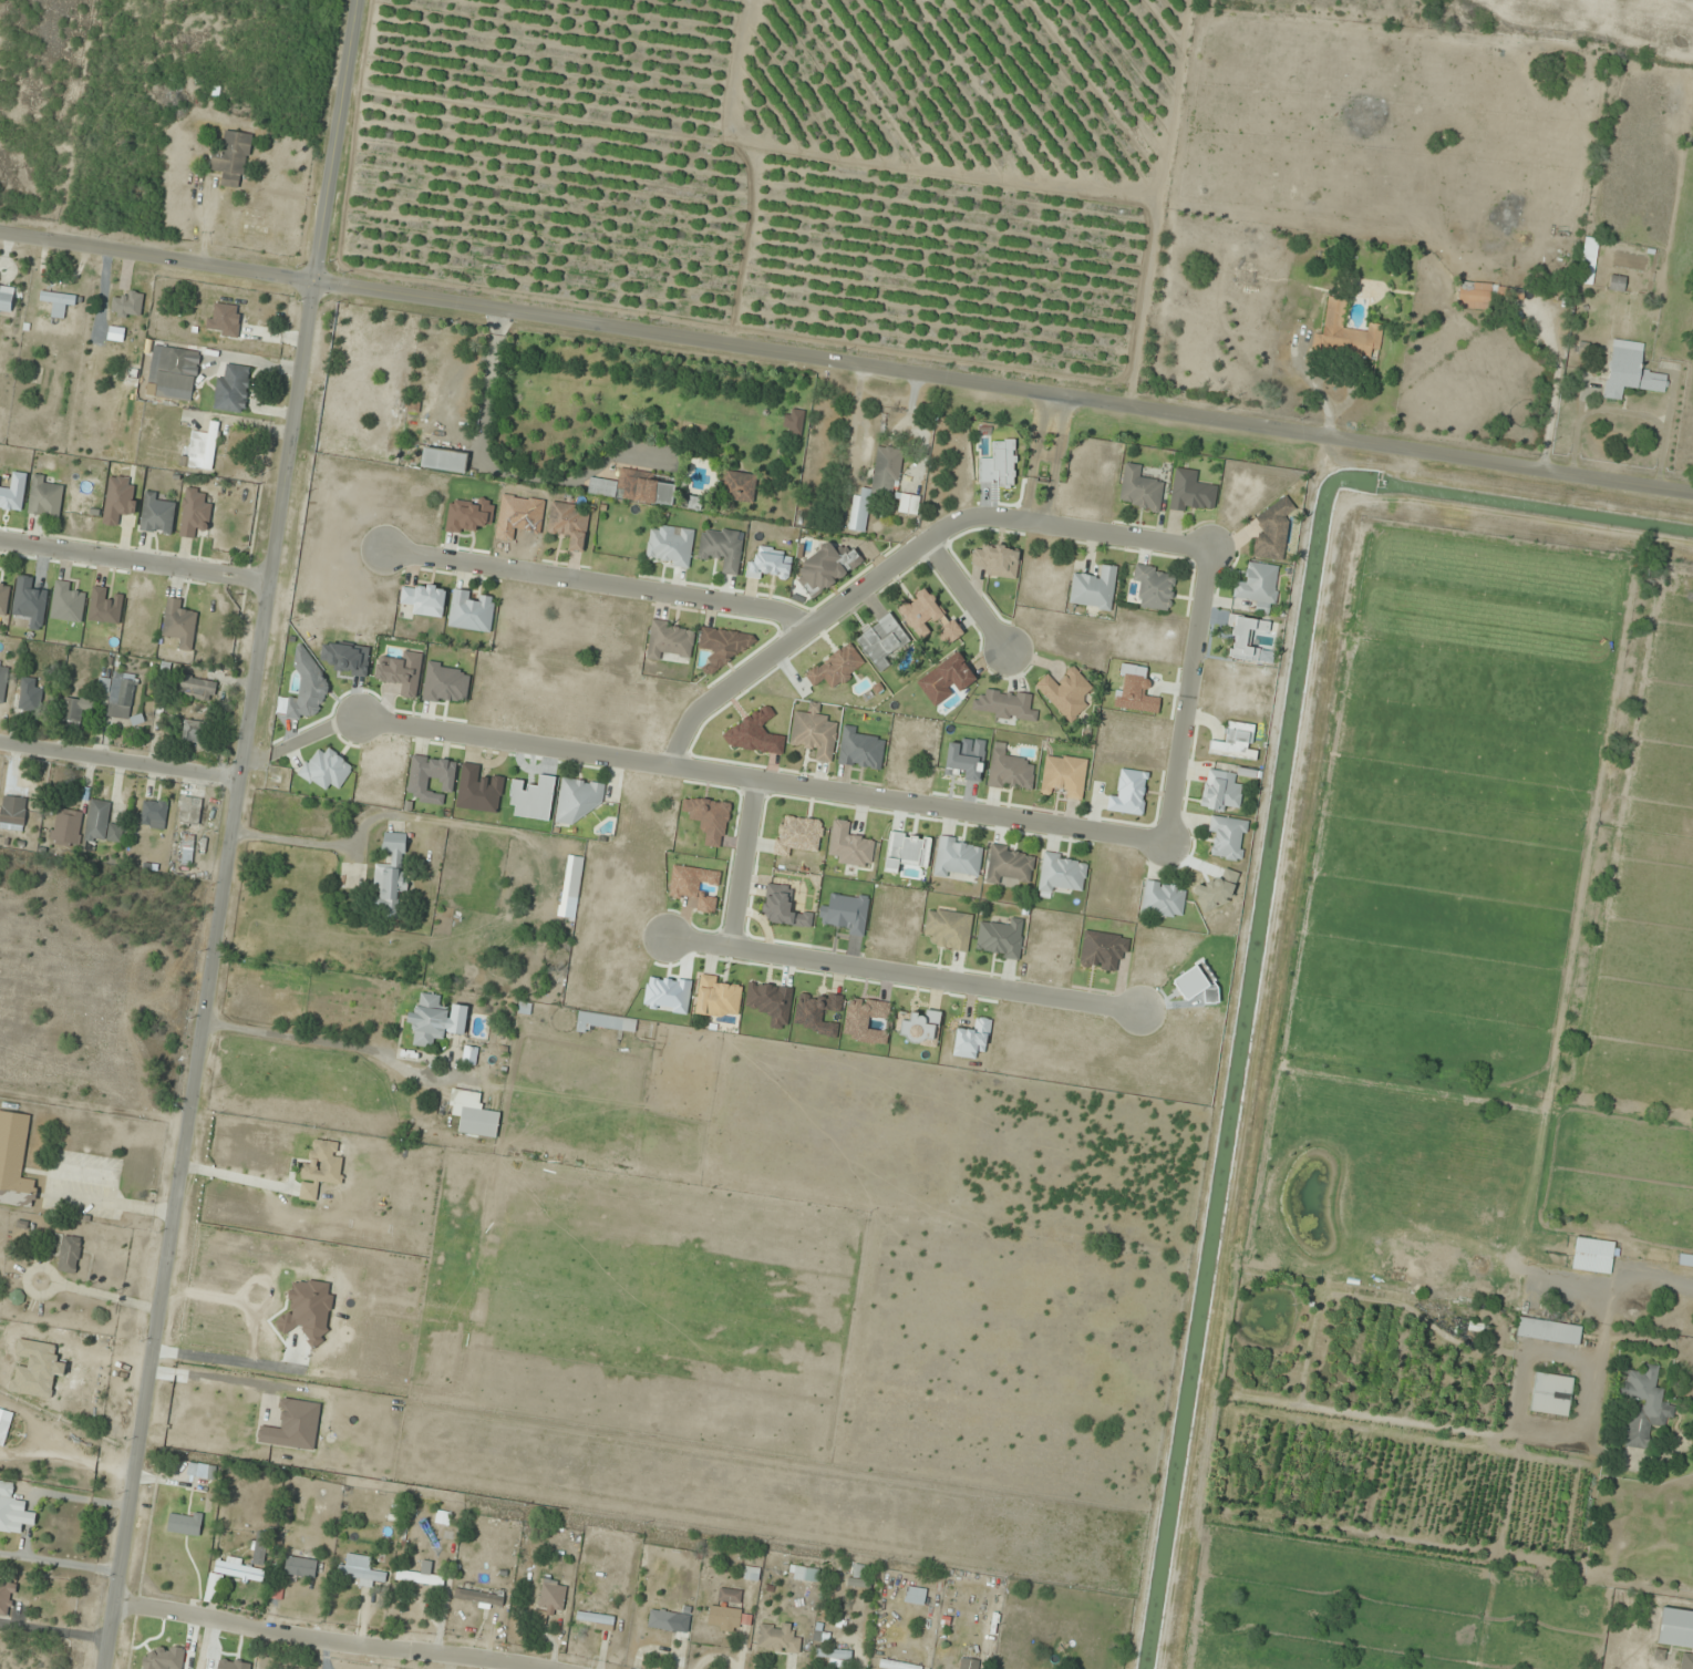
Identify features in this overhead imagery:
building: (231, 159)
building: (1589, 260)
building: (1617, 282)
building: (1479, 295)
building: (7, 299)
building: (59, 302)
building: (236, 324)
building: (1345, 333)
road: (846, 364)
building: (1630, 371)
building: (177, 373)
building: (233, 390)
building: (203, 449)
road: (1044, 460)
building: (444, 461)
building: (891, 481)
building: (740, 486)
building: (634, 488)
building: (1140, 488)
building: (1191, 492)
building: (45, 497)
building: (118, 499)
building: (194, 512)
building: (157, 513)
building: (569, 524)
building: (1272, 534)
building: (670, 545)
building: (722, 548)
road: (902, 557)
building: (998, 560)
road: (134, 562)
building: (826, 567)
road: (597, 583)
building: (1155, 586)
building: (1259, 587)
building: (1094, 589)
road: (964, 596)
building: (4, 597)
building: (424, 600)
building: (472, 611)
building: (928, 616)
building: (179, 624)
building: (1246, 637)
building: (670, 641)
building: (3, 683)
building: (446, 684)
building: (196, 687)
building: (1065, 692)
building: (28, 696)
building: (121, 696)
road: (1187, 696)
building: (1004, 705)
building: (73, 713)
building: (195, 733)
building: (815, 733)
building: (1236, 743)
road: (292, 744)
road: (117, 761)
building: (327, 769)
building: (1010, 771)
building: (1064, 776)
building: (431, 779)
road: (760, 782)
building: (1221, 791)
building: (578, 800)
building: (190, 810)
building: (13, 813)
building: (154, 813)
building: (102, 824)
building: (68, 827)
road: (227, 834)
building: (797, 835)
building: (1228, 837)
building: (850, 846)
building: (187, 849)
building: (906, 852)
building: (958, 859)
road: (739, 864)
building: (1008, 865)
building: (1062, 874)
building: (391, 877)
building: (576, 877)
building: (694, 886)
building: (1163, 899)
building: (949, 929)
building: (1001, 939)
building: (1103, 950)
road: (902, 975)
building: (716, 999)
building: (436, 1020)
building: (610, 1023)
building: (919, 1028)
building: (474, 1115)
building: (14, 1161)
building: (323, 1164)
building: (69, 1255)
building: (1593, 1256)
building: (1685, 1261)
building: (1548, 1333)
building: (1551, 1395)
building: (1644, 1407)
building: (293, 1426)
building: (14, 1515)
building: (300, 1568)
building: (361, 1570)
building: (237, 1572)
building: (805, 1574)
building: (419, 1578)
building: (214, 1588)
building: (730, 1596)
building: (915, 1596)
building: (478, 1597)
building: (551, 1597)
building: (6, 1598)
building: (724, 1618)
building: (595, 1620)
building: (662, 1620)
building: (1675, 1628)
building: (777, 1638)
road: (322, 1641)
building: (835, 1657)
building: (1686, 1661)
building: (968, 1663)
building: (896, 1665)

